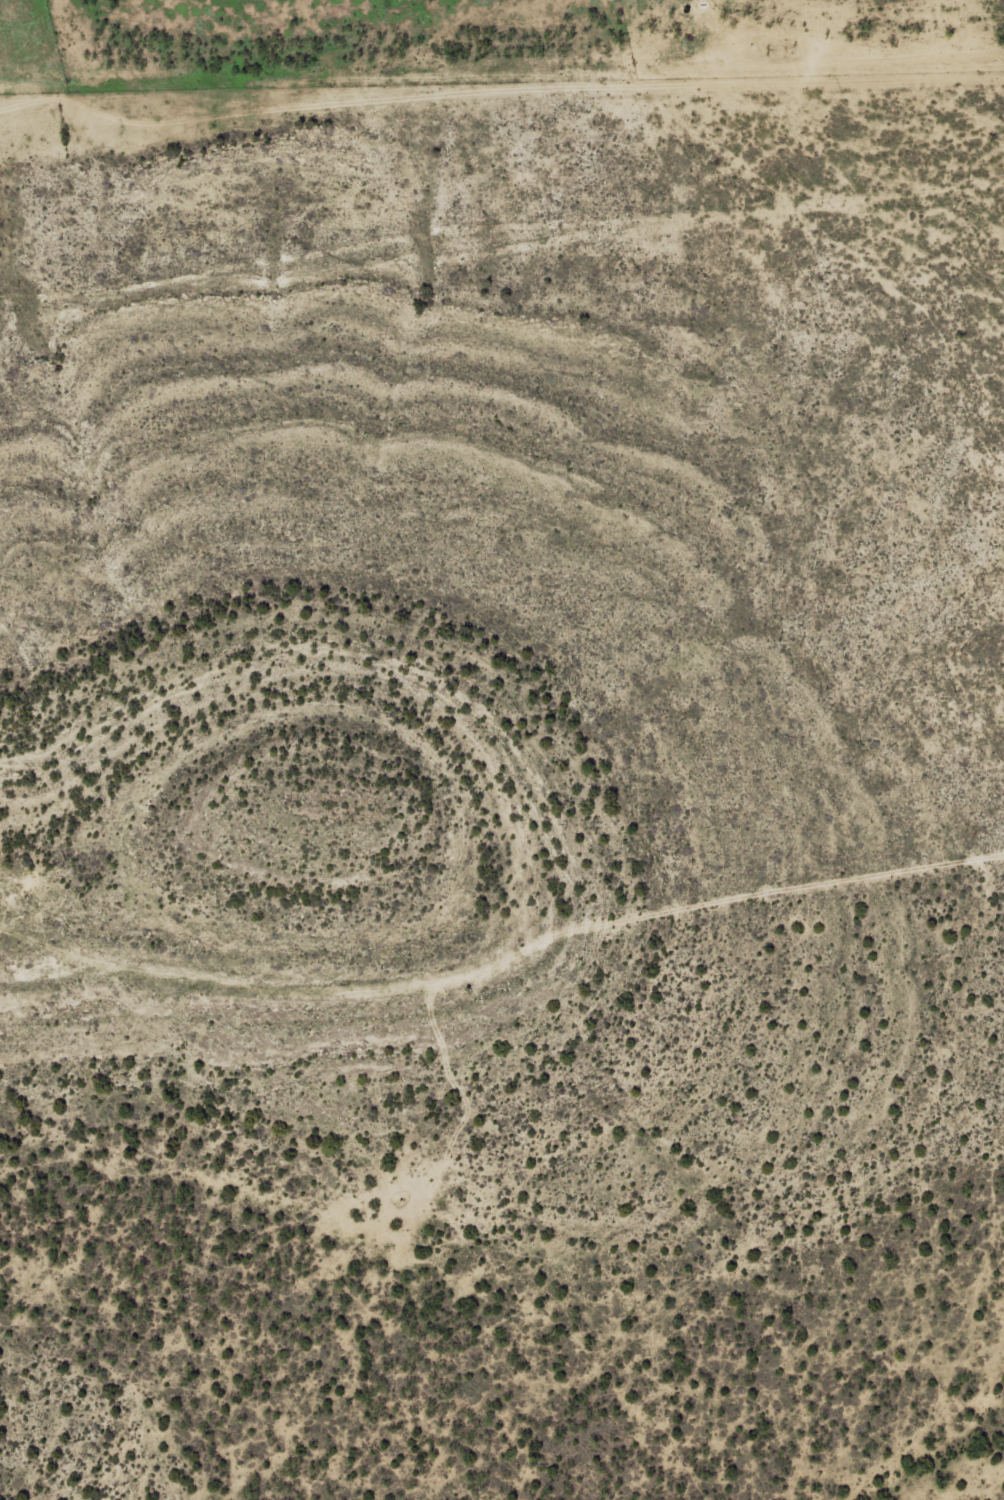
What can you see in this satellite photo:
road: (502, 80)
road: (550, 947)

